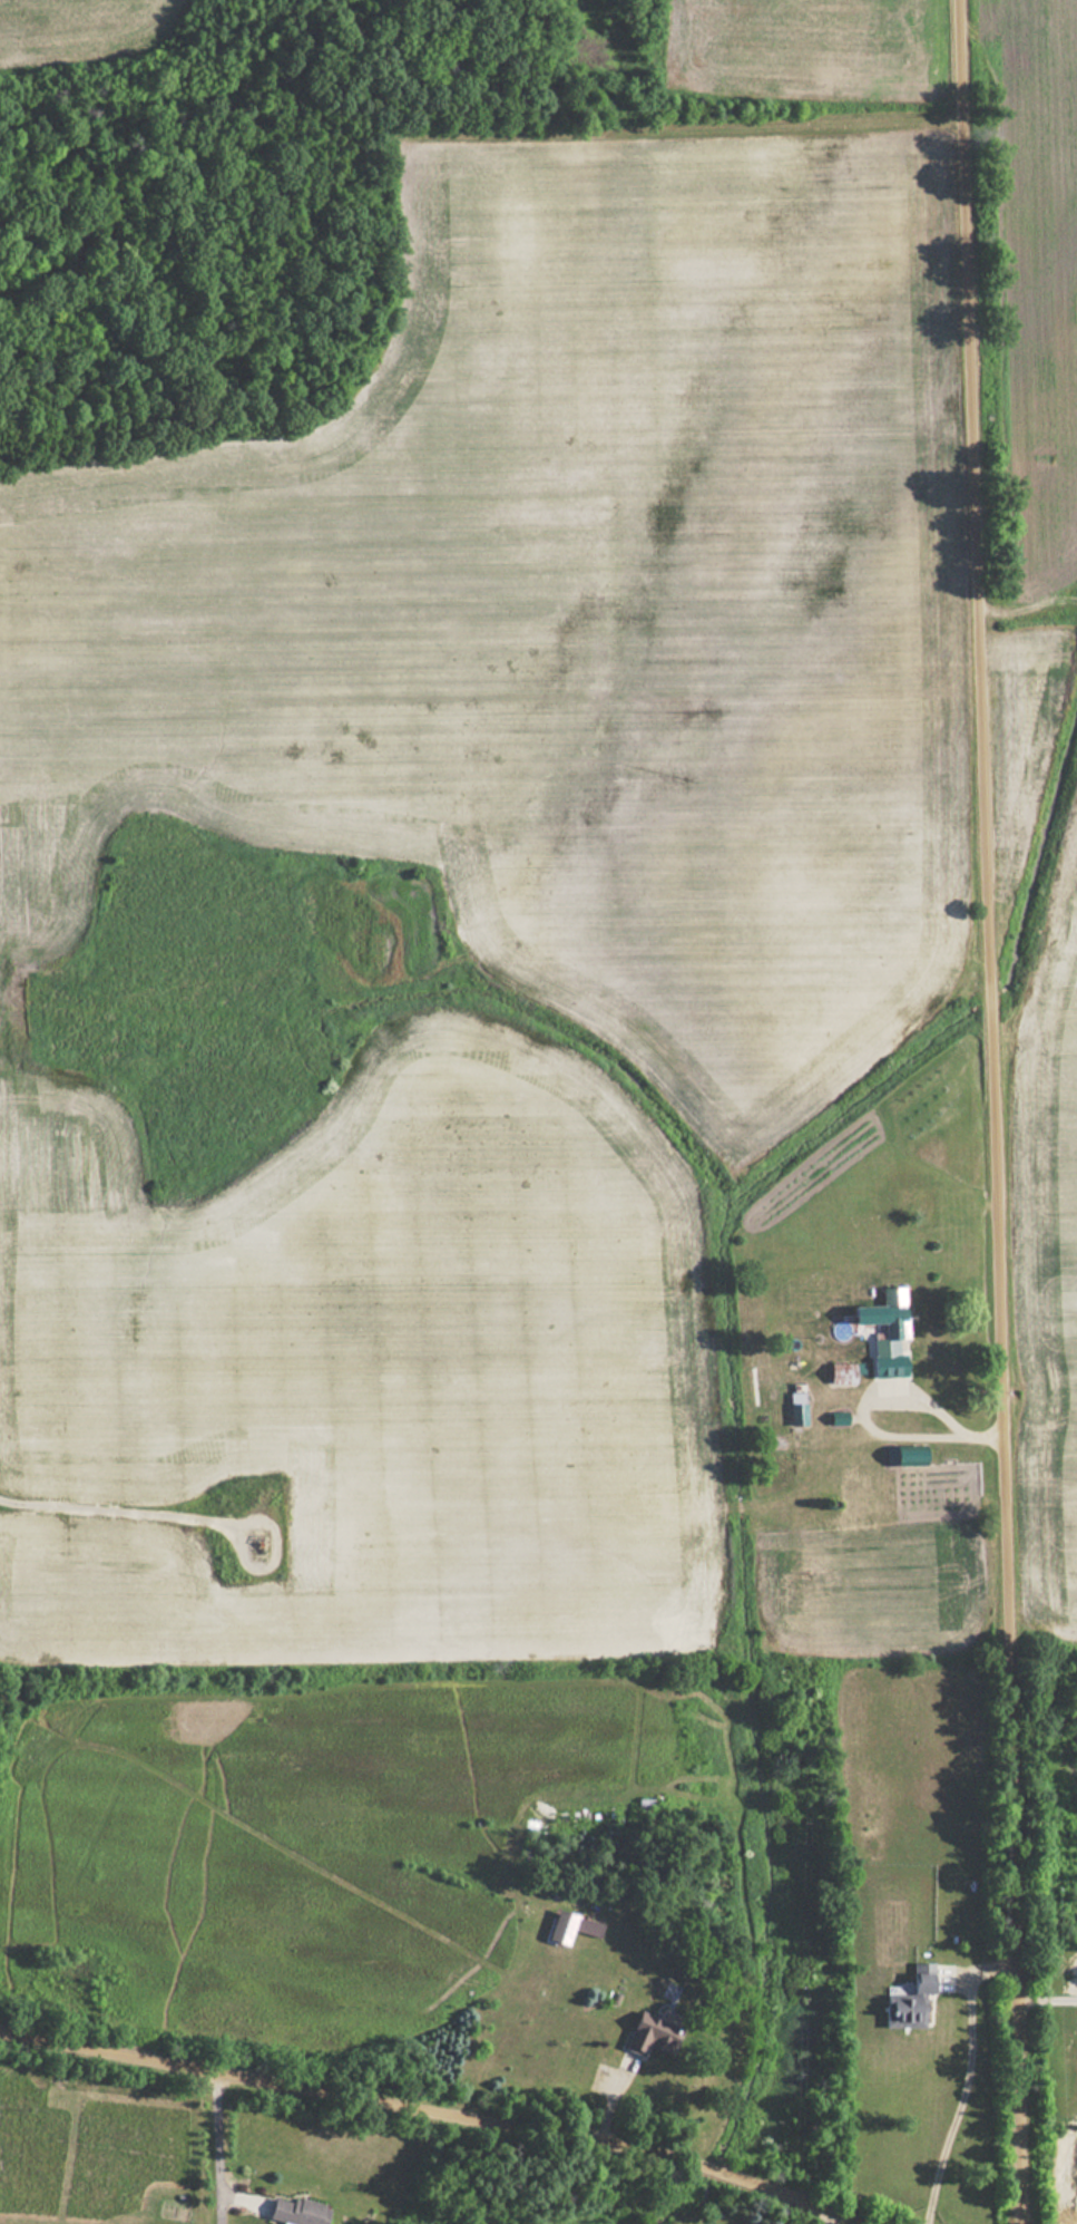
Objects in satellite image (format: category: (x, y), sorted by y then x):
road: (1000, 1111)
building: (920, 1206)
building: (890, 1324)
building: (842, 1373)
building: (795, 1415)
building: (905, 1457)
building: (854, 1488)
road: (117, 1514)
petroleum well: (261, 1541)
building: (643, 1805)
building: (587, 1926)
building: (905, 2001)
building: (648, 2033)
road: (423, 2117)
building: (293, 2211)

